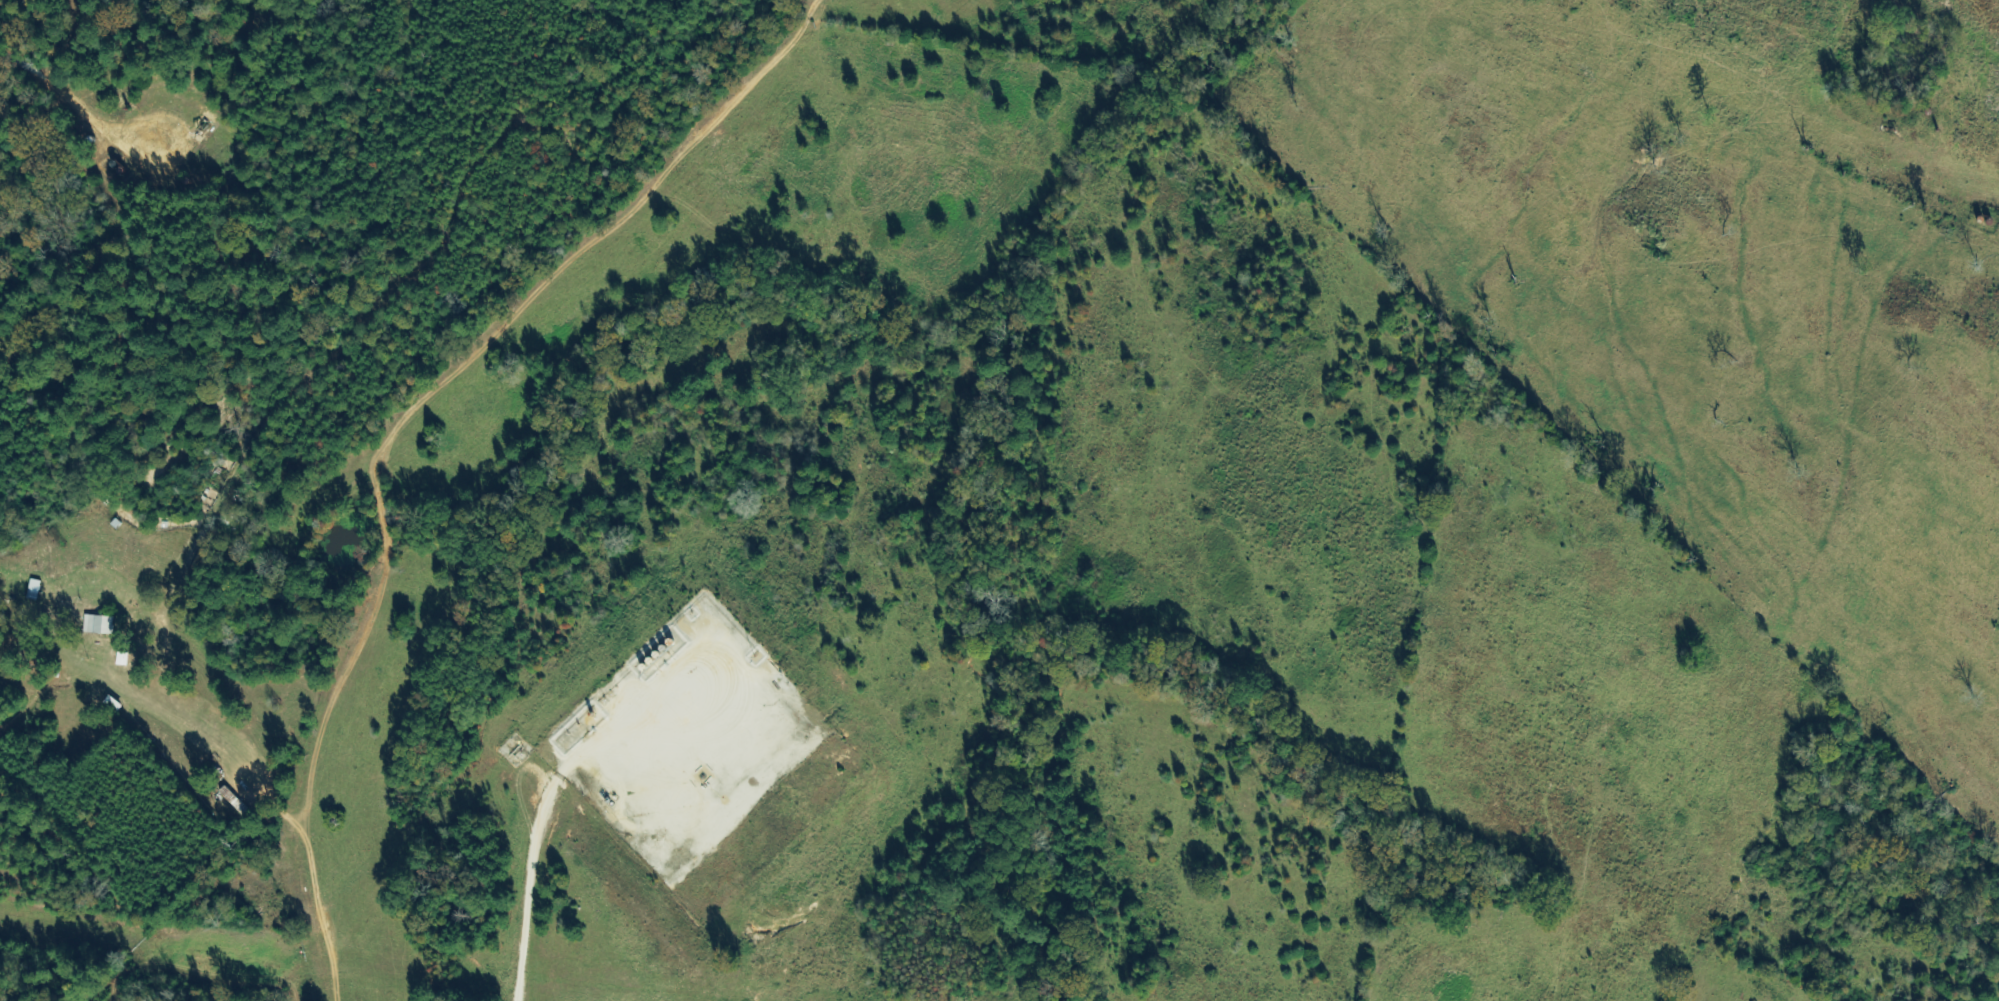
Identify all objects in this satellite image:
road: (1983, 169)
building: (96, 624)
road: (251, 800)

